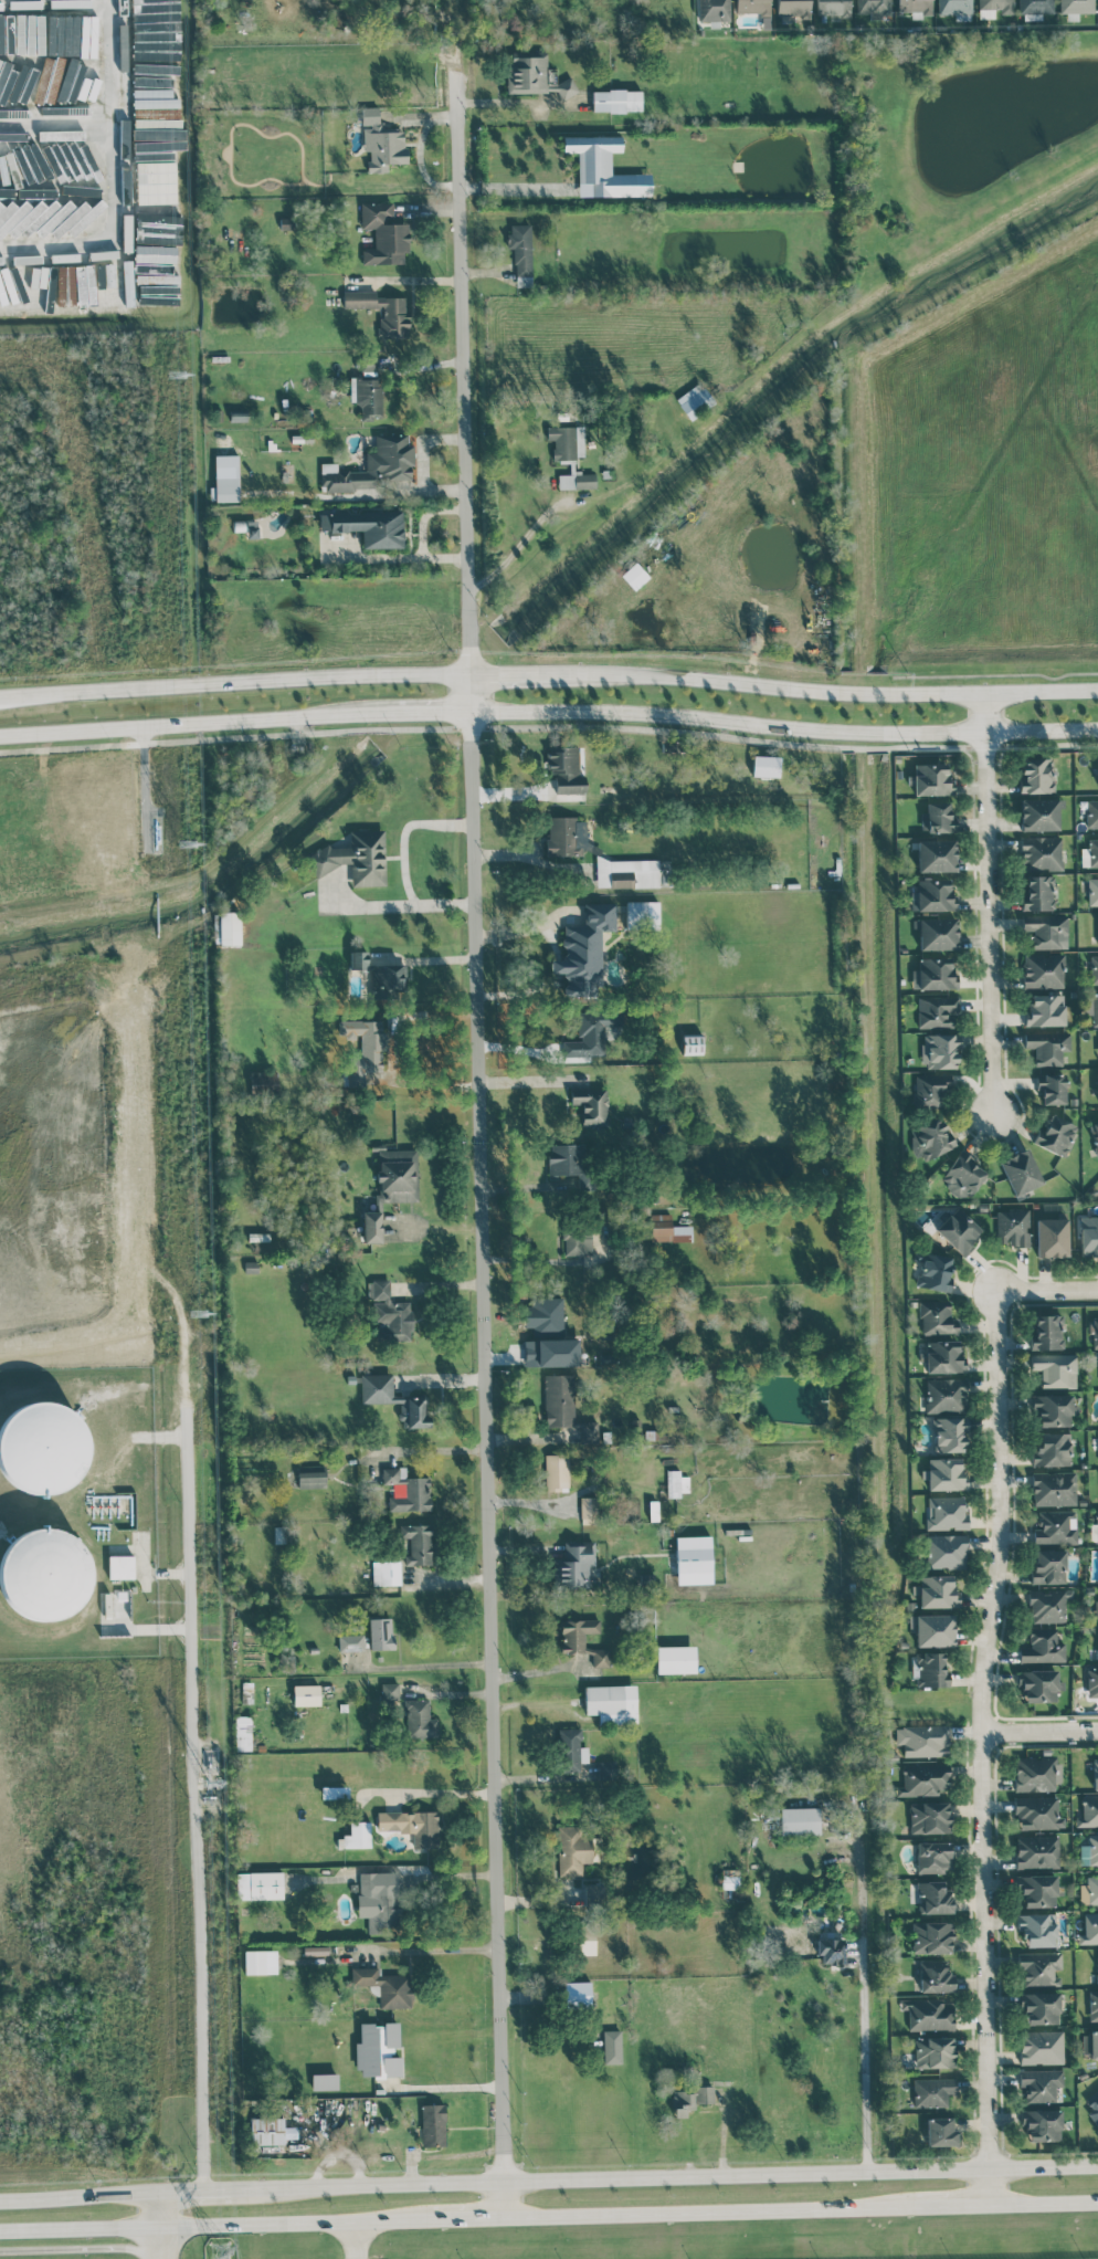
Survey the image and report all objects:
building: (996, 4)
building: (752, 6)
building: (914, 6)
building: (1076, 6)
building: (832, 7)
building: (1035, 7)
building: (792, 8)
building: (874, 8)
building: (956, 9)
building: (712, 10)
building: (123, 21)
building: (31, 34)
building: (63, 62)
building: (534, 77)
building: (158, 86)
building: (616, 99)
building: (6, 112)
building: (155, 117)
building: (124, 132)
building: (59, 133)
building: (13, 134)
building: (381, 141)
building: (157, 143)
building: (603, 168)
building: (157, 180)
building: (124, 182)
road: (118, 186)
road: (507, 192)
building: (17, 196)
building: (60, 212)
building: (24, 214)
building: (77, 218)
building: (157, 224)
building: (383, 233)
building: (155, 253)
building: (520, 253)
building: (103, 254)
building: (127, 274)
building: (38, 276)
building: (173, 283)
building: (70, 285)
building: (113, 285)
building: (381, 311)
power tower: (178, 374)
building: (367, 396)
building: (694, 400)
building: (567, 441)
building: (372, 466)
building: (226, 477)
building: (576, 480)
building: (368, 526)
road: (513, 555)
building: (634, 576)
road: (511, 675)
road: (233, 681)
road: (825, 691)
road: (426, 714)
road: (192, 725)
road: (783, 727)
building: (764, 766)
building: (564, 769)
building: (1035, 774)
building: (931, 779)
building: (1038, 813)
building: (1091, 813)
building: (937, 817)
building: (566, 836)
road: (409, 841)
power tower: (190, 843)
building: (1041, 852)
building: (1092, 852)
building: (936, 855)
building: (355, 858)
building: (634, 873)
building: (1092, 891)
building: (1038, 893)
building: (931, 895)
road: (991, 906)
road: (380, 913)
building: (642, 914)
building: (1097, 926)
building: (226, 927)
building: (1046, 931)
building: (936, 933)
building: (358, 960)
building: (1094, 969)
building: (1043, 970)
building: (932, 974)
building: (389, 977)
building: (1095, 1008)
building: (1044, 1010)
building: (936, 1011)
building: (591, 1033)
building: (1046, 1047)
building: (363, 1048)
road: (391, 1049)
building: (939, 1051)
building: (1097, 1085)
building: (1051, 1088)
building: (929, 1091)
building: (590, 1104)
road: (478, 1132)
building: (1055, 1133)
building: (1094, 1134)
building: (929, 1139)
building: (570, 1162)
building: (1020, 1171)
building: (962, 1175)
building: (391, 1187)
building: (1013, 1227)
building: (957, 1230)
building: (1088, 1236)
building: (1052, 1237)
building: (577, 1240)
building: (933, 1271)
road: (1047, 1288)
building: (389, 1312)
building: (546, 1313)
building: (936, 1317)
power tower: (198, 1321)
building: (1047, 1331)
building: (1095, 1332)
building: (550, 1352)
building: (942, 1356)
building: (1055, 1369)
building: (946, 1395)
building: (394, 1399)
building: (558, 1400)
building: (1053, 1409)
building: (589, 1430)
building: (948, 1433)
building: (42, 1448)
building: (1051, 1449)
road: (439, 1453)
building: (556, 1472)
building: (943, 1473)
building: (312, 1479)
building: (676, 1483)
building: (1054, 1488)
building: (407, 1490)
building: (588, 1510)
building: (946, 1513)
building: (1097, 1524)
building: (1055, 1526)
building: (416, 1544)
building: (946, 1551)
building: (693, 1559)
building: (574, 1565)
building: (120, 1566)
building: (1048, 1566)
building: (386, 1573)
building: (43, 1574)
road: (429, 1587)
building: (936, 1591)
building: (1047, 1605)
building: (1096, 1609)
building: (932, 1629)
building: (380, 1633)
building: (1097, 1638)
building: (581, 1639)
building: (350, 1642)
building: (1042, 1646)
building: (675, 1659)
road: (475, 1669)
building: (930, 1669)
building: (1091, 1682)
building: (1038, 1684)
building: (389, 1691)
building: (305, 1694)
building: (611, 1703)
road: (504, 1709)
building: (419, 1720)
road: (1043, 1730)
building: (243, 1733)
building: (922, 1740)
road: (988, 1743)
building: (570, 1750)
building: (1034, 1773)
building: (1095, 1774)
building: (923, 1779)
road: (479, 1792)
road: (196, 1803)
building: (1088, 1811)
building: (1036, 1813)
building: (928, 1817)
building: (800, 1820)
building: (411, 1825)
building: (356, 1836)
building: (1092, 1849)
building: (1037, 1851)
building: (932, 1857)
building: (572, 1861)
building: (729, 1881)
road: (446, 1882)
building: (258, 1884)
building: (1092, 1889)
building: (1037, 1890)
building: (933, 1898)
road: (522, 1902)
building: (377, 1903)
building: (1037, 1929)
building: (1089, 1929)
building: (931, 1937)
building: (587, 1941)
building: (831, 1950)
road: (379, 1954)
building: (260, 1962)
building: (1097, 1965)
building: (1039, 1968)
building: (935, 1975)
building: (384, 1986)
building: (577, 1994)
building: (1092, 2005)
building: (1039, 2008)
road: (863, 2010)
building: (928, 2014)
building: (1089, 2043)
building: (611, 2046)
building: (1041, 2047)
building: (378, 2050)
building: (933, 2052)
building: (324, 2081)
building: (1038, 2084)
building: (931, 2091)
road: (450, 2093)
building: (705, 2094)
building: (680, 2102)
building: (1092, 2105)
building: (432, 2124)
building: (1041, 2124)
building: (270, 2131)
building: (939, 2131)
road: (663, 2188)
road: (196, 2200)
road: (1045, 2200)
road: (81, 2203)
road: (950, 2203)
road: (707, 2213)
road: (468, 2221)
road: (377, 2227)
road: (215, 2228)
road: (162, 2229)
road: (77, 2248)
power tower: (219, 2250)

